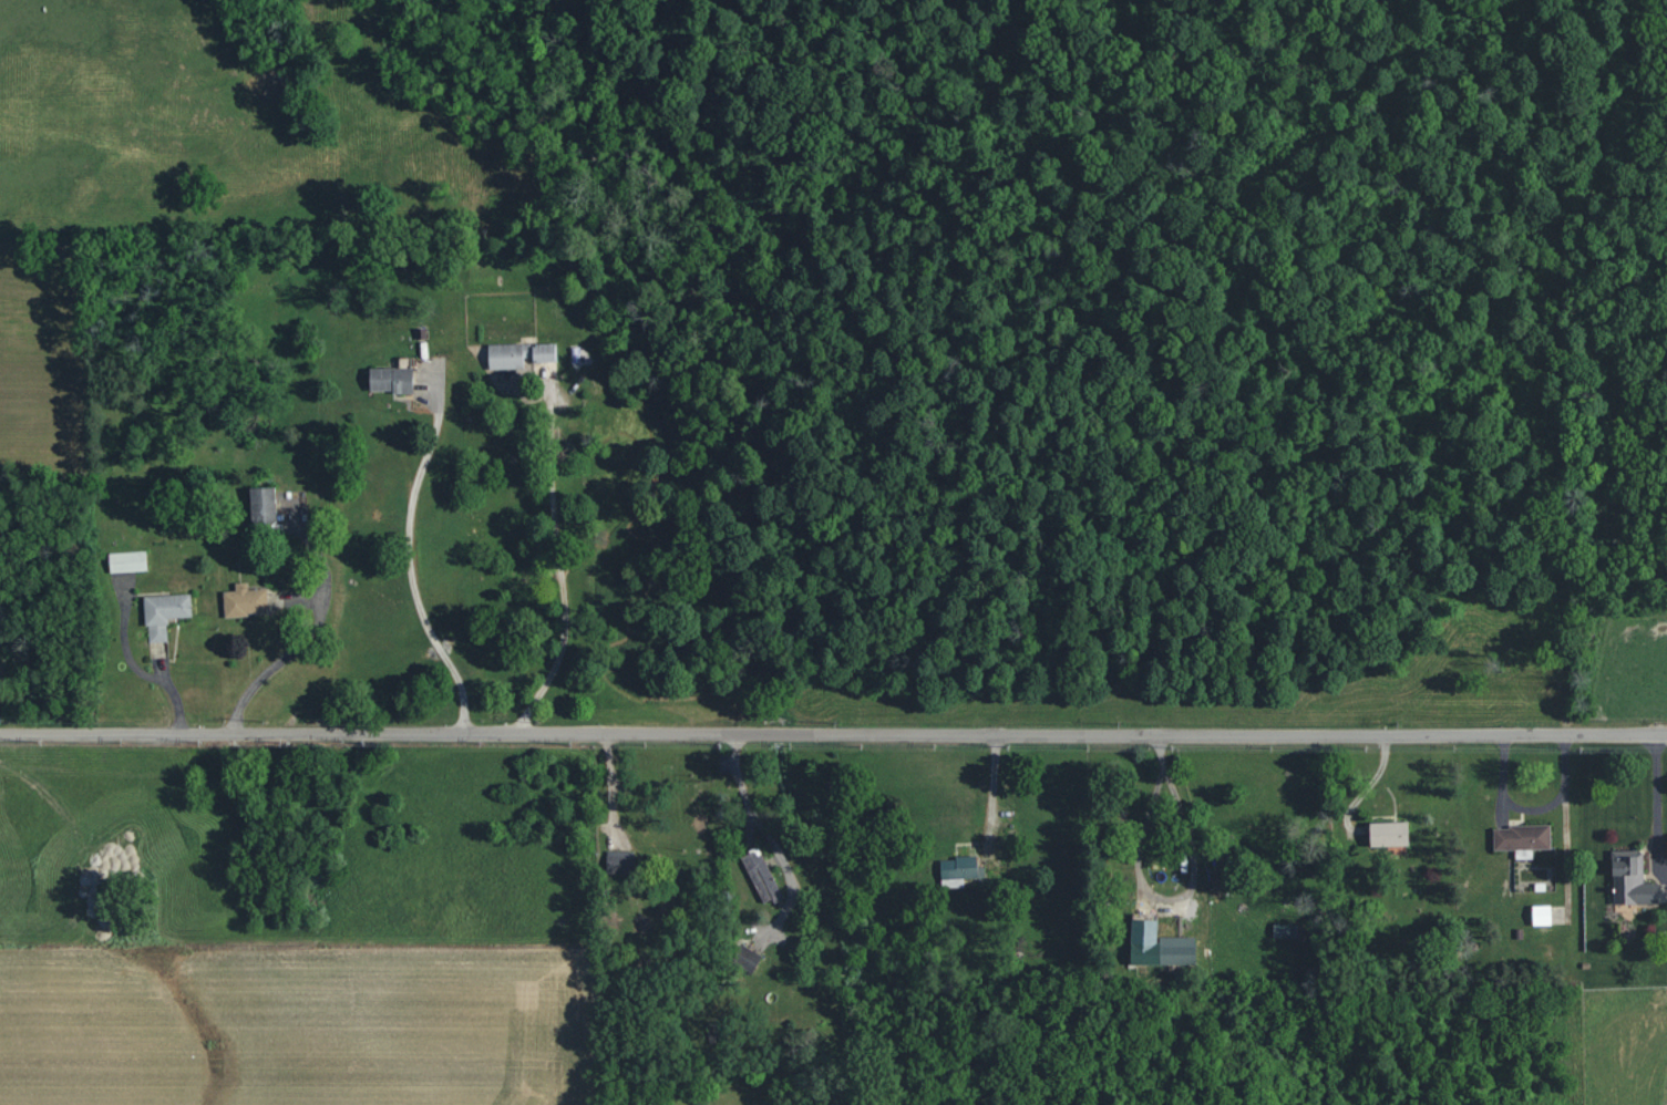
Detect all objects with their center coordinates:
building: (517, 354)
building: (391, 379)
building: (261, 506)
road: (403, 552)
building: (126, 561)
road: (546, 565)
building: (244, 600)
building: (164, 613)
road: (278, 650)
road: (833, 733)
road: (1156, 746)
road: (1565, 797)
road: (1656, 799)
road: (990, 803)
road: (758, 820)
building: (1388, 834)
road: (647, 838)
building: (1522, 839)
building: (619, 863)
building: (959, 870)
building: (761, 876)
building: (1630, 880)
road: (1145, 897)
building: (1541, 916)
building: (1284, 931)
building: (1159, 947)
building: (747, 959)
building: (713, 1033)

